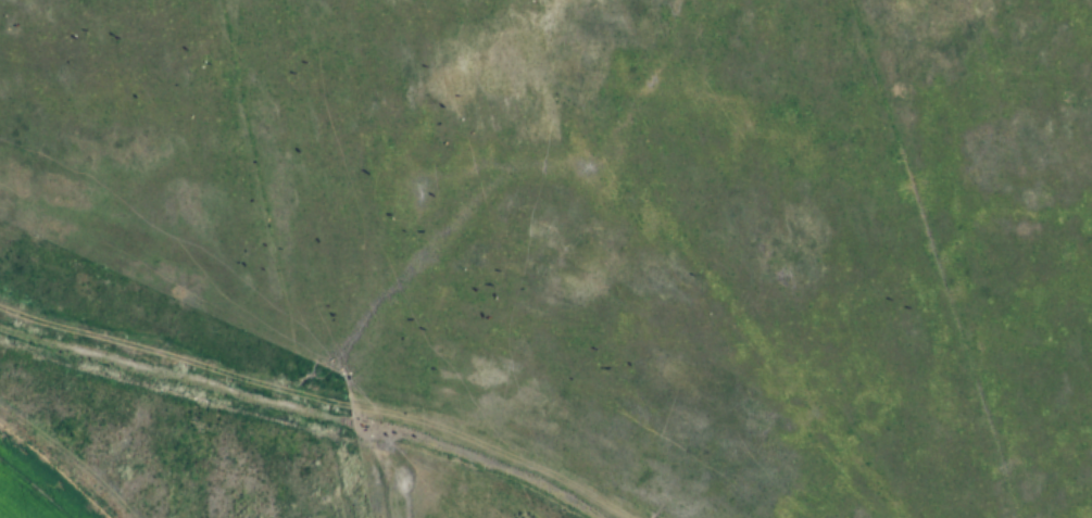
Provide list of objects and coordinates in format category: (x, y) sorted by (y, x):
crop: (25, 491)

